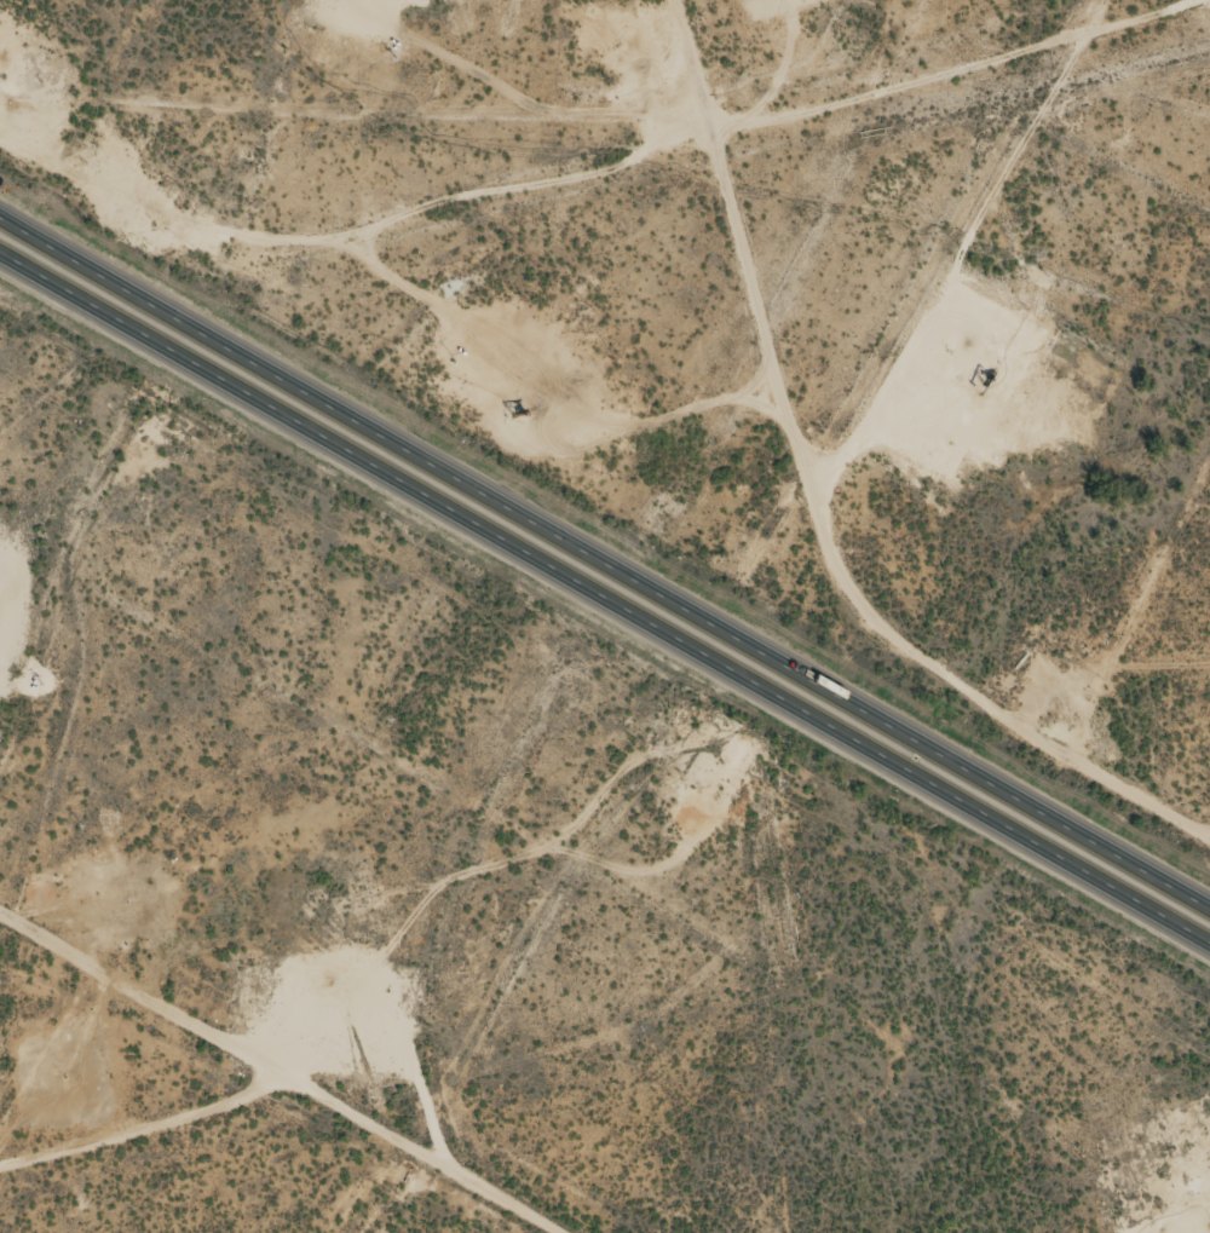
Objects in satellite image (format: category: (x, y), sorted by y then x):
road: (605, 565)
road: (605, 598)
road: (281, 1071)

